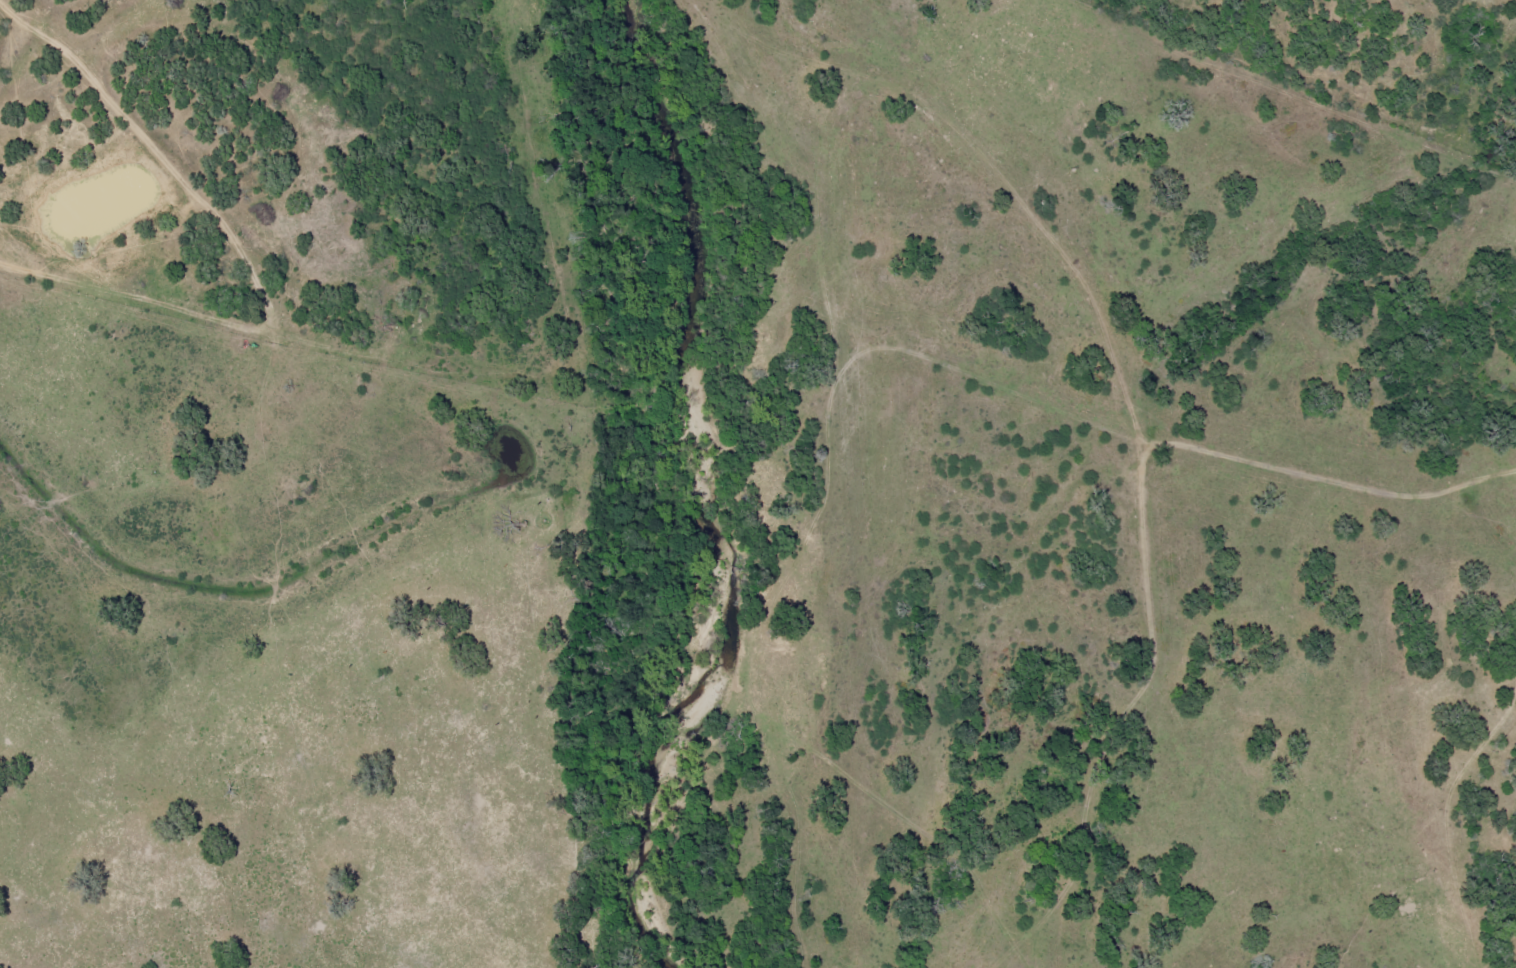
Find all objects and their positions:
road: (1511, 955)

